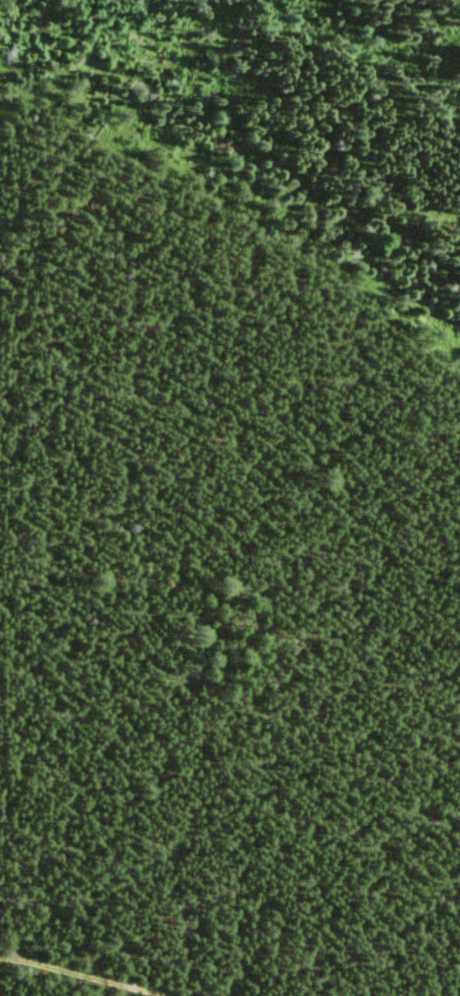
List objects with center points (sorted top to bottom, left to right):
road: (79, 977)

